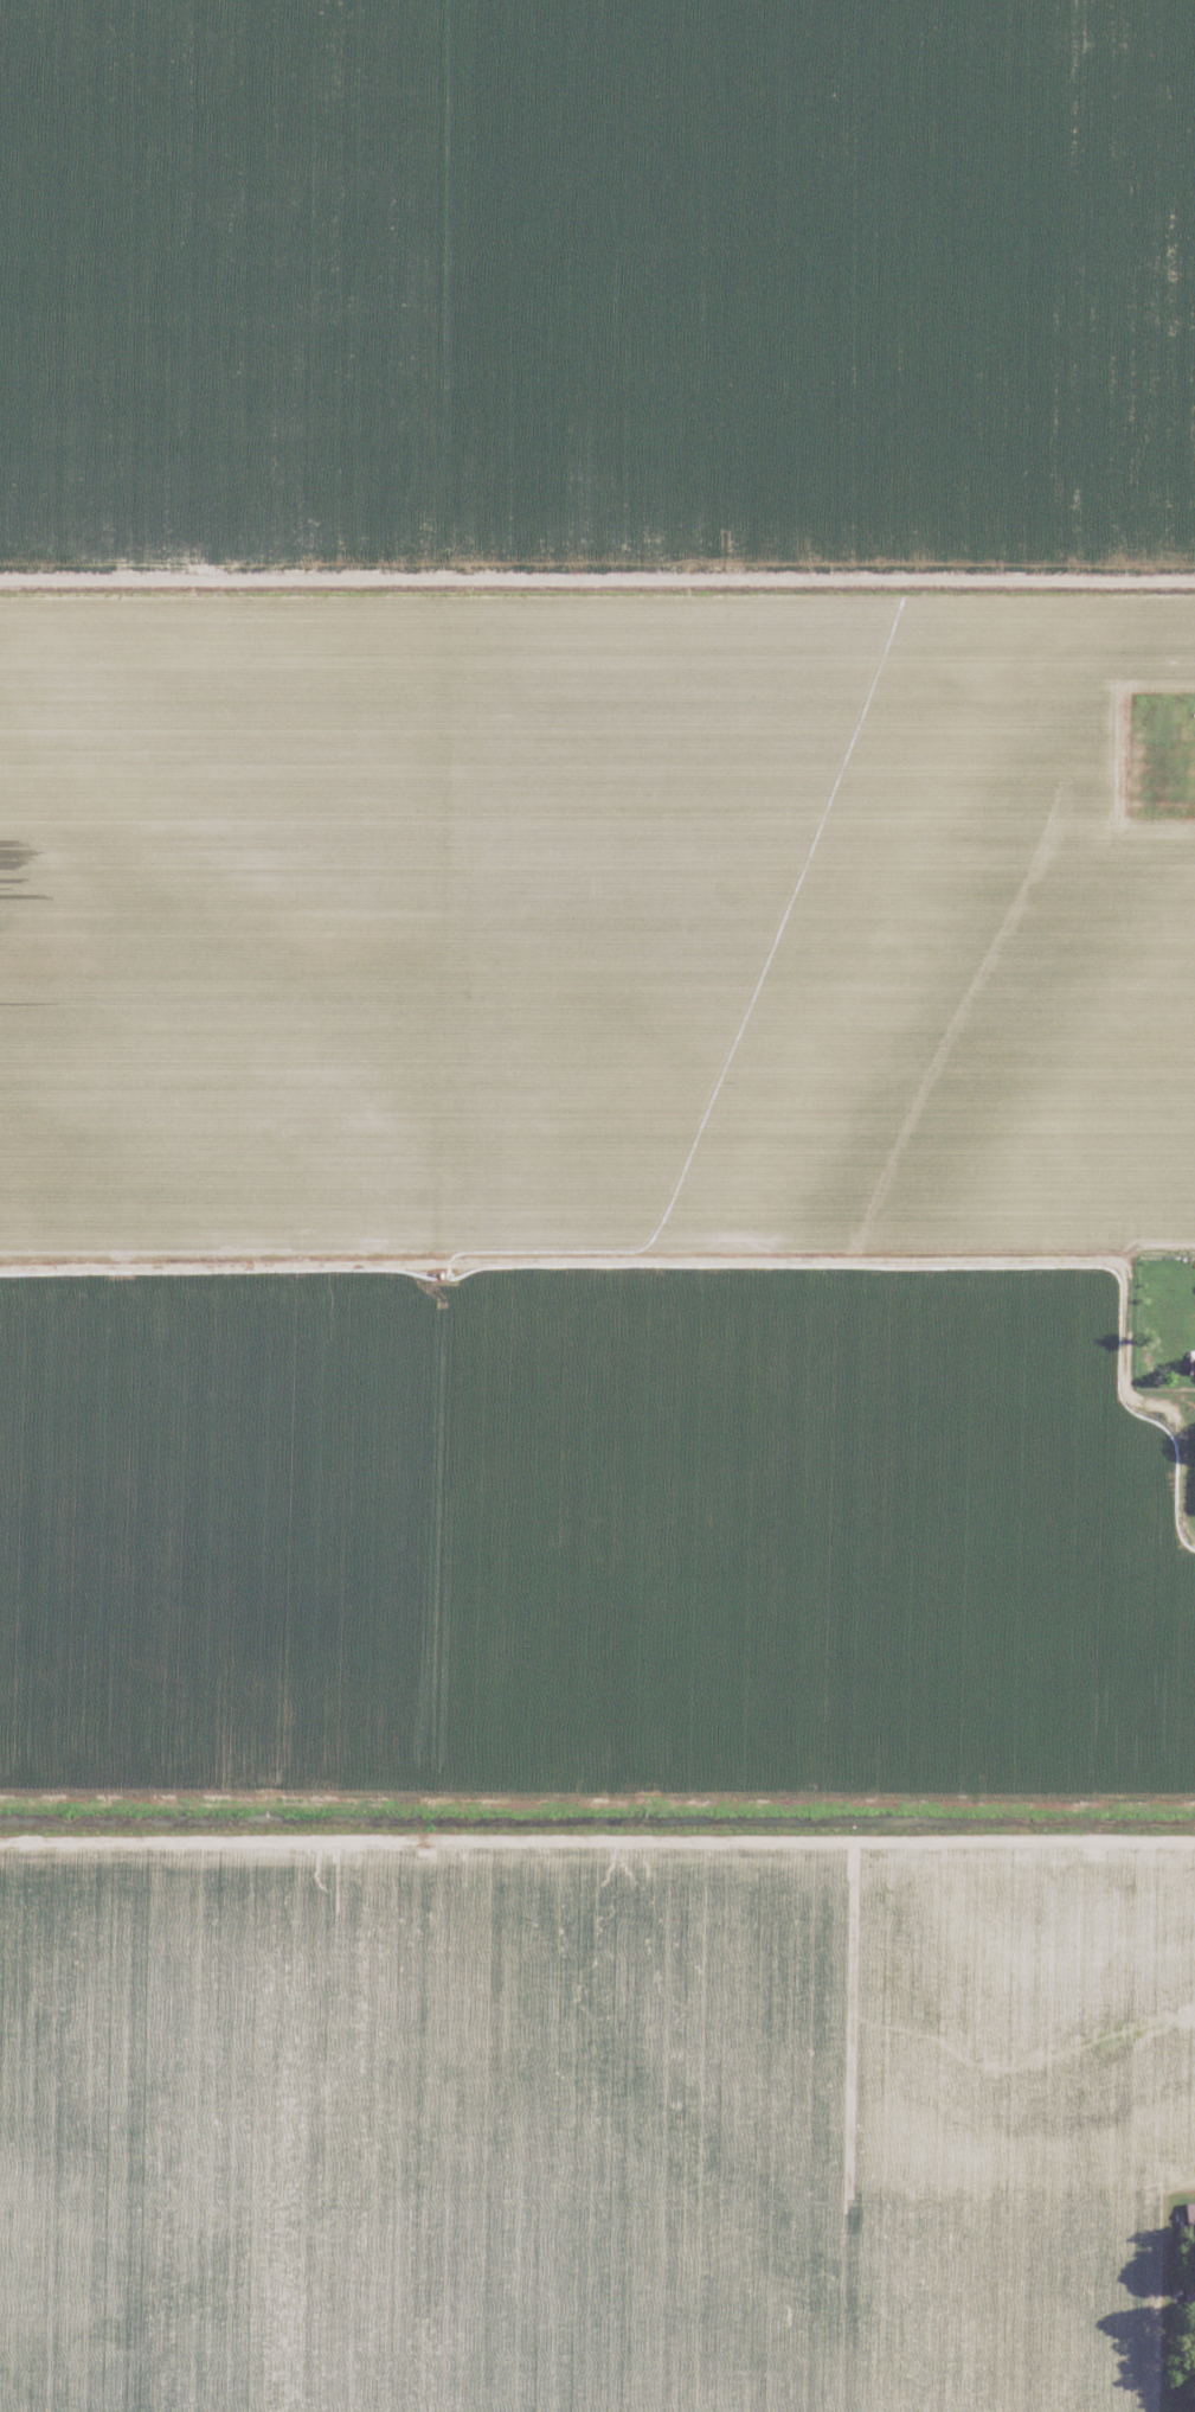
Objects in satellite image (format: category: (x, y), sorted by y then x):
building: (1189, 2215)

